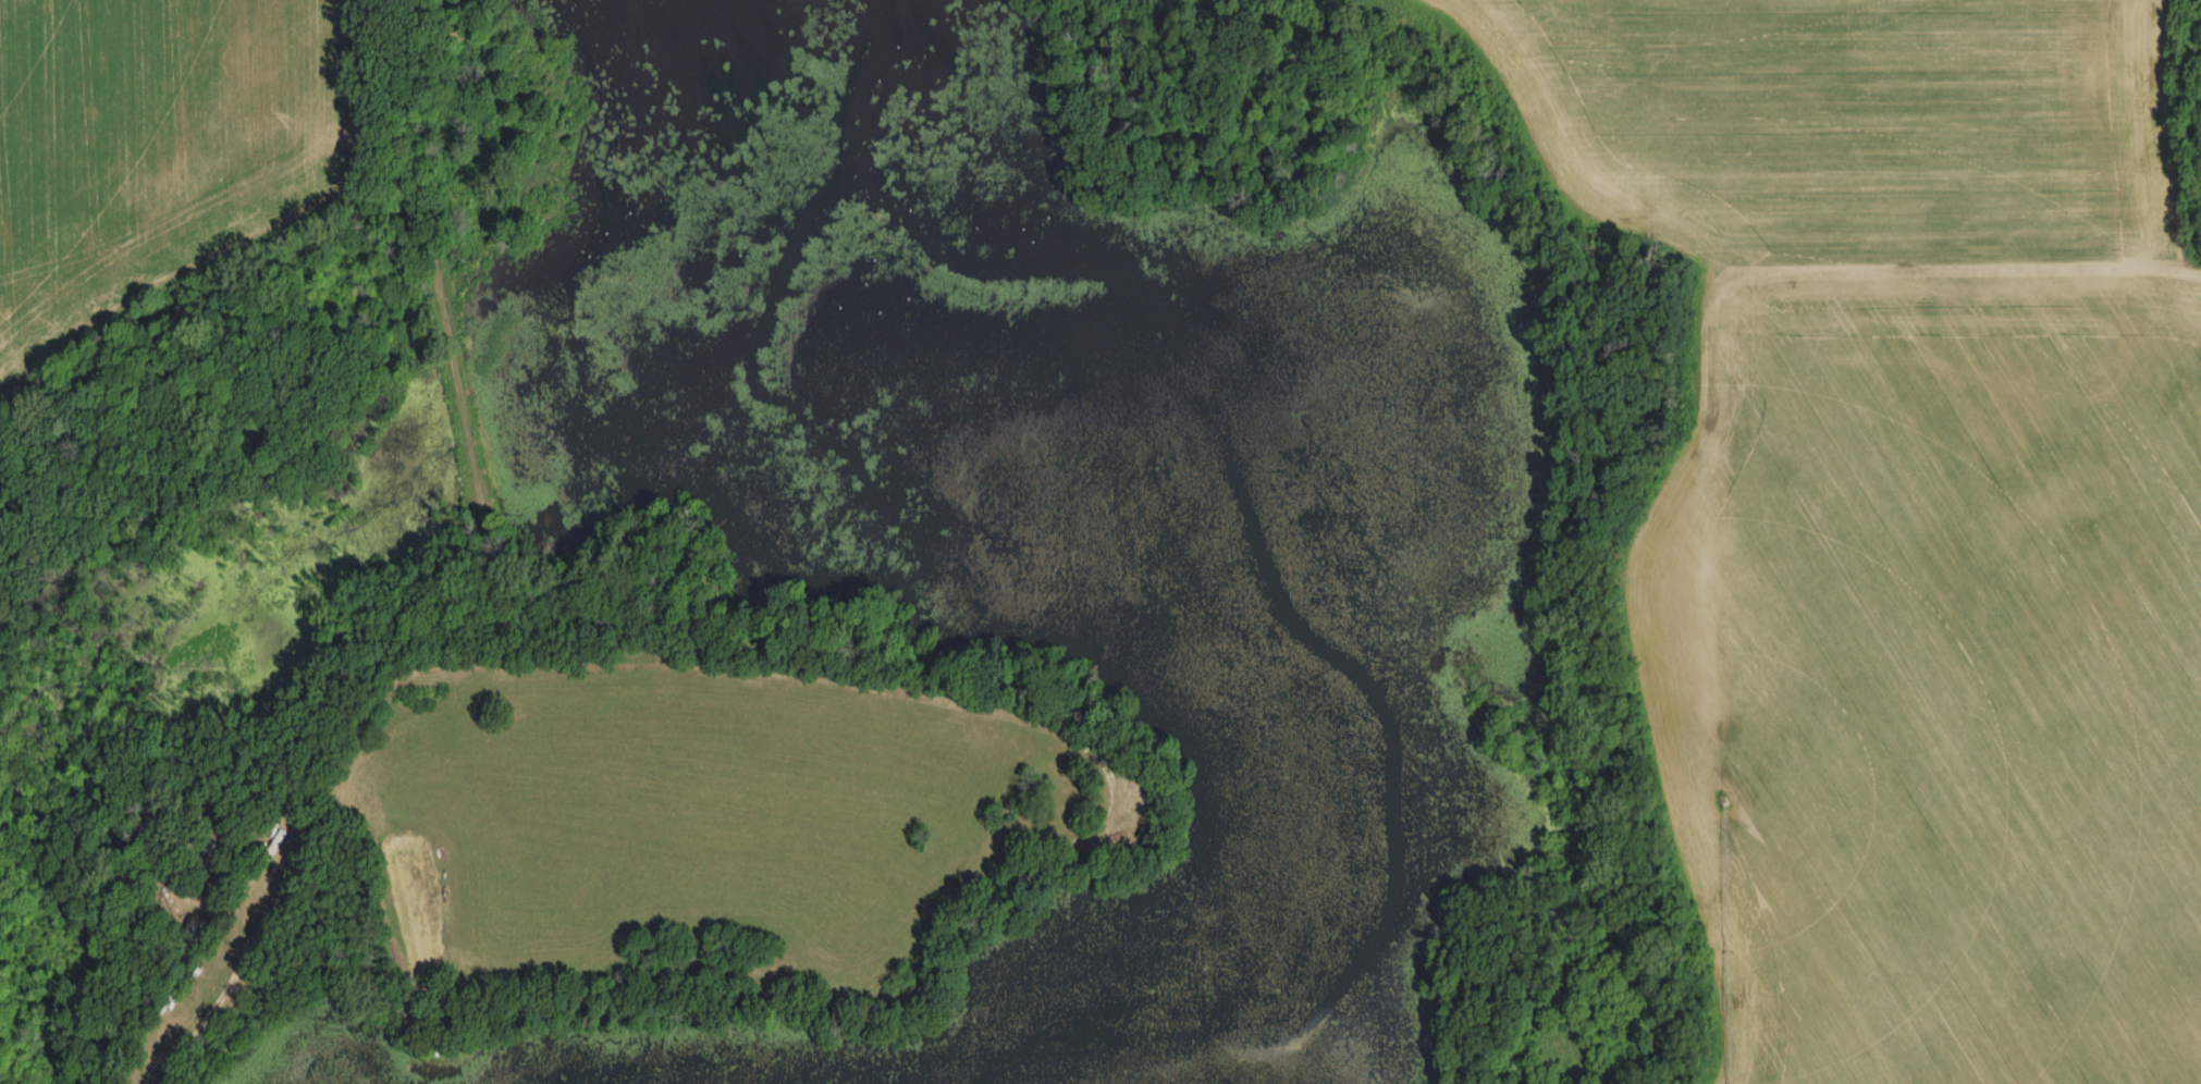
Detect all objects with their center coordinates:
building: (268, 847)
road: (218, 1005)

